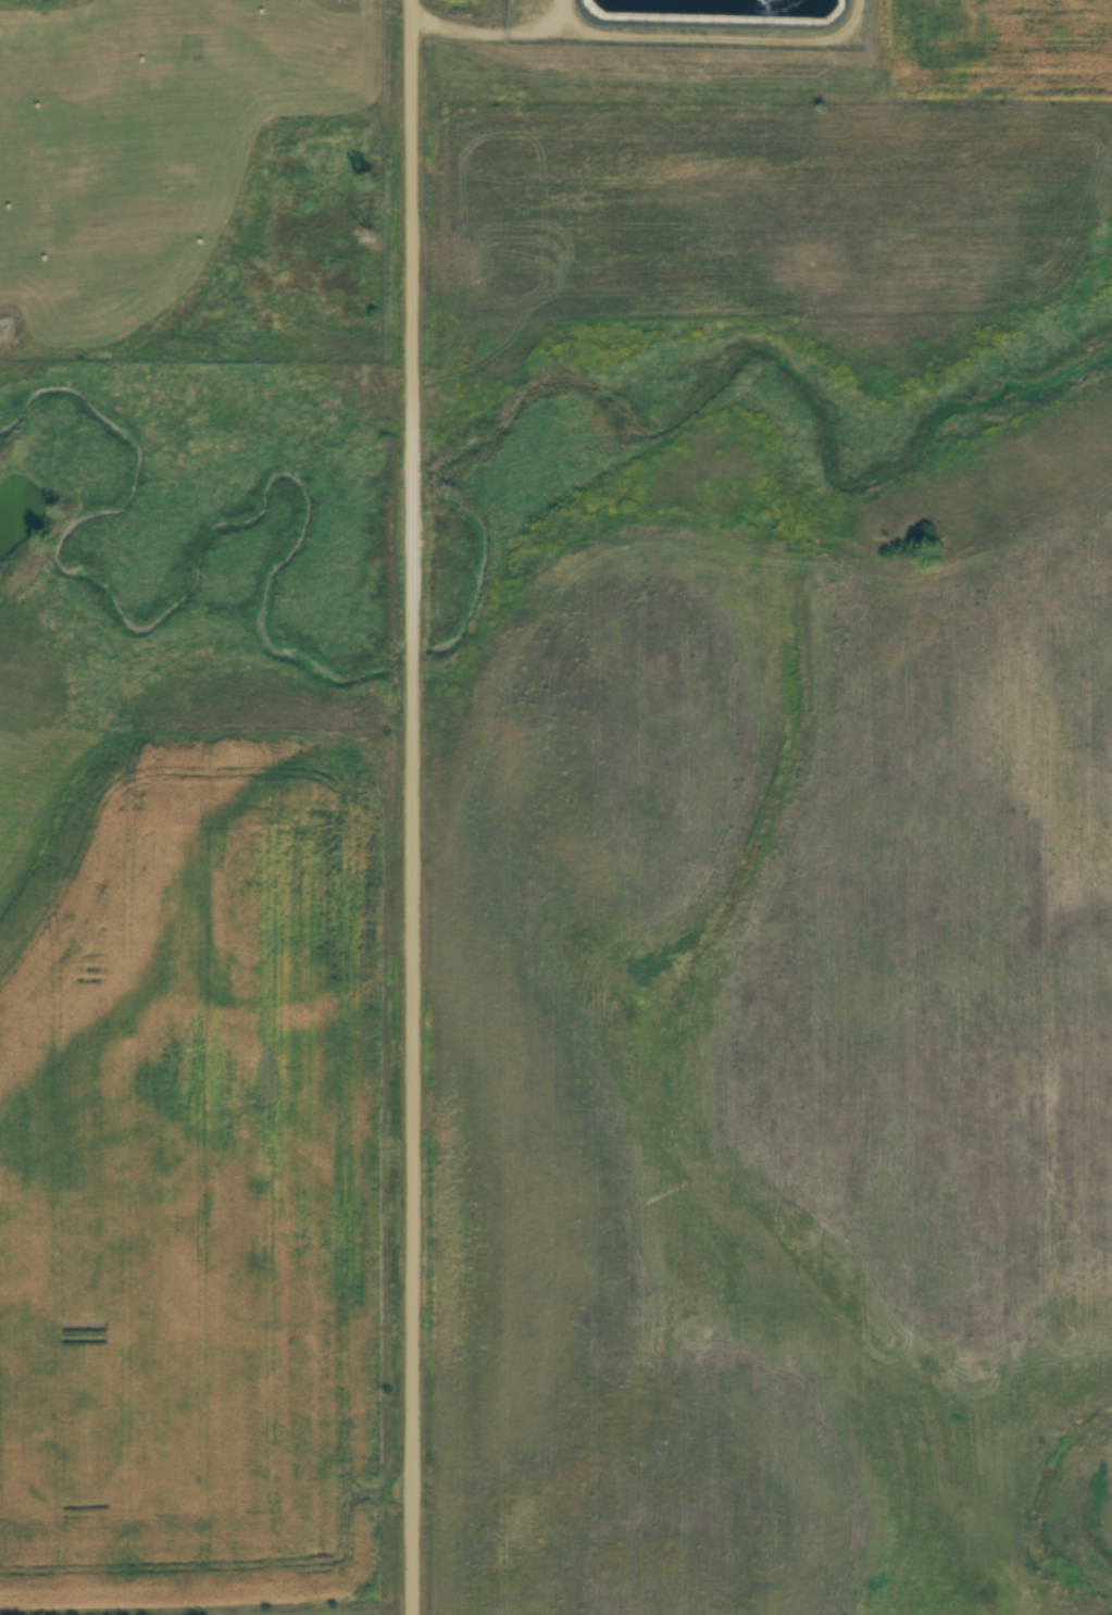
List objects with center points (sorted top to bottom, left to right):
road: (209, 312)
road: (417, 807)

